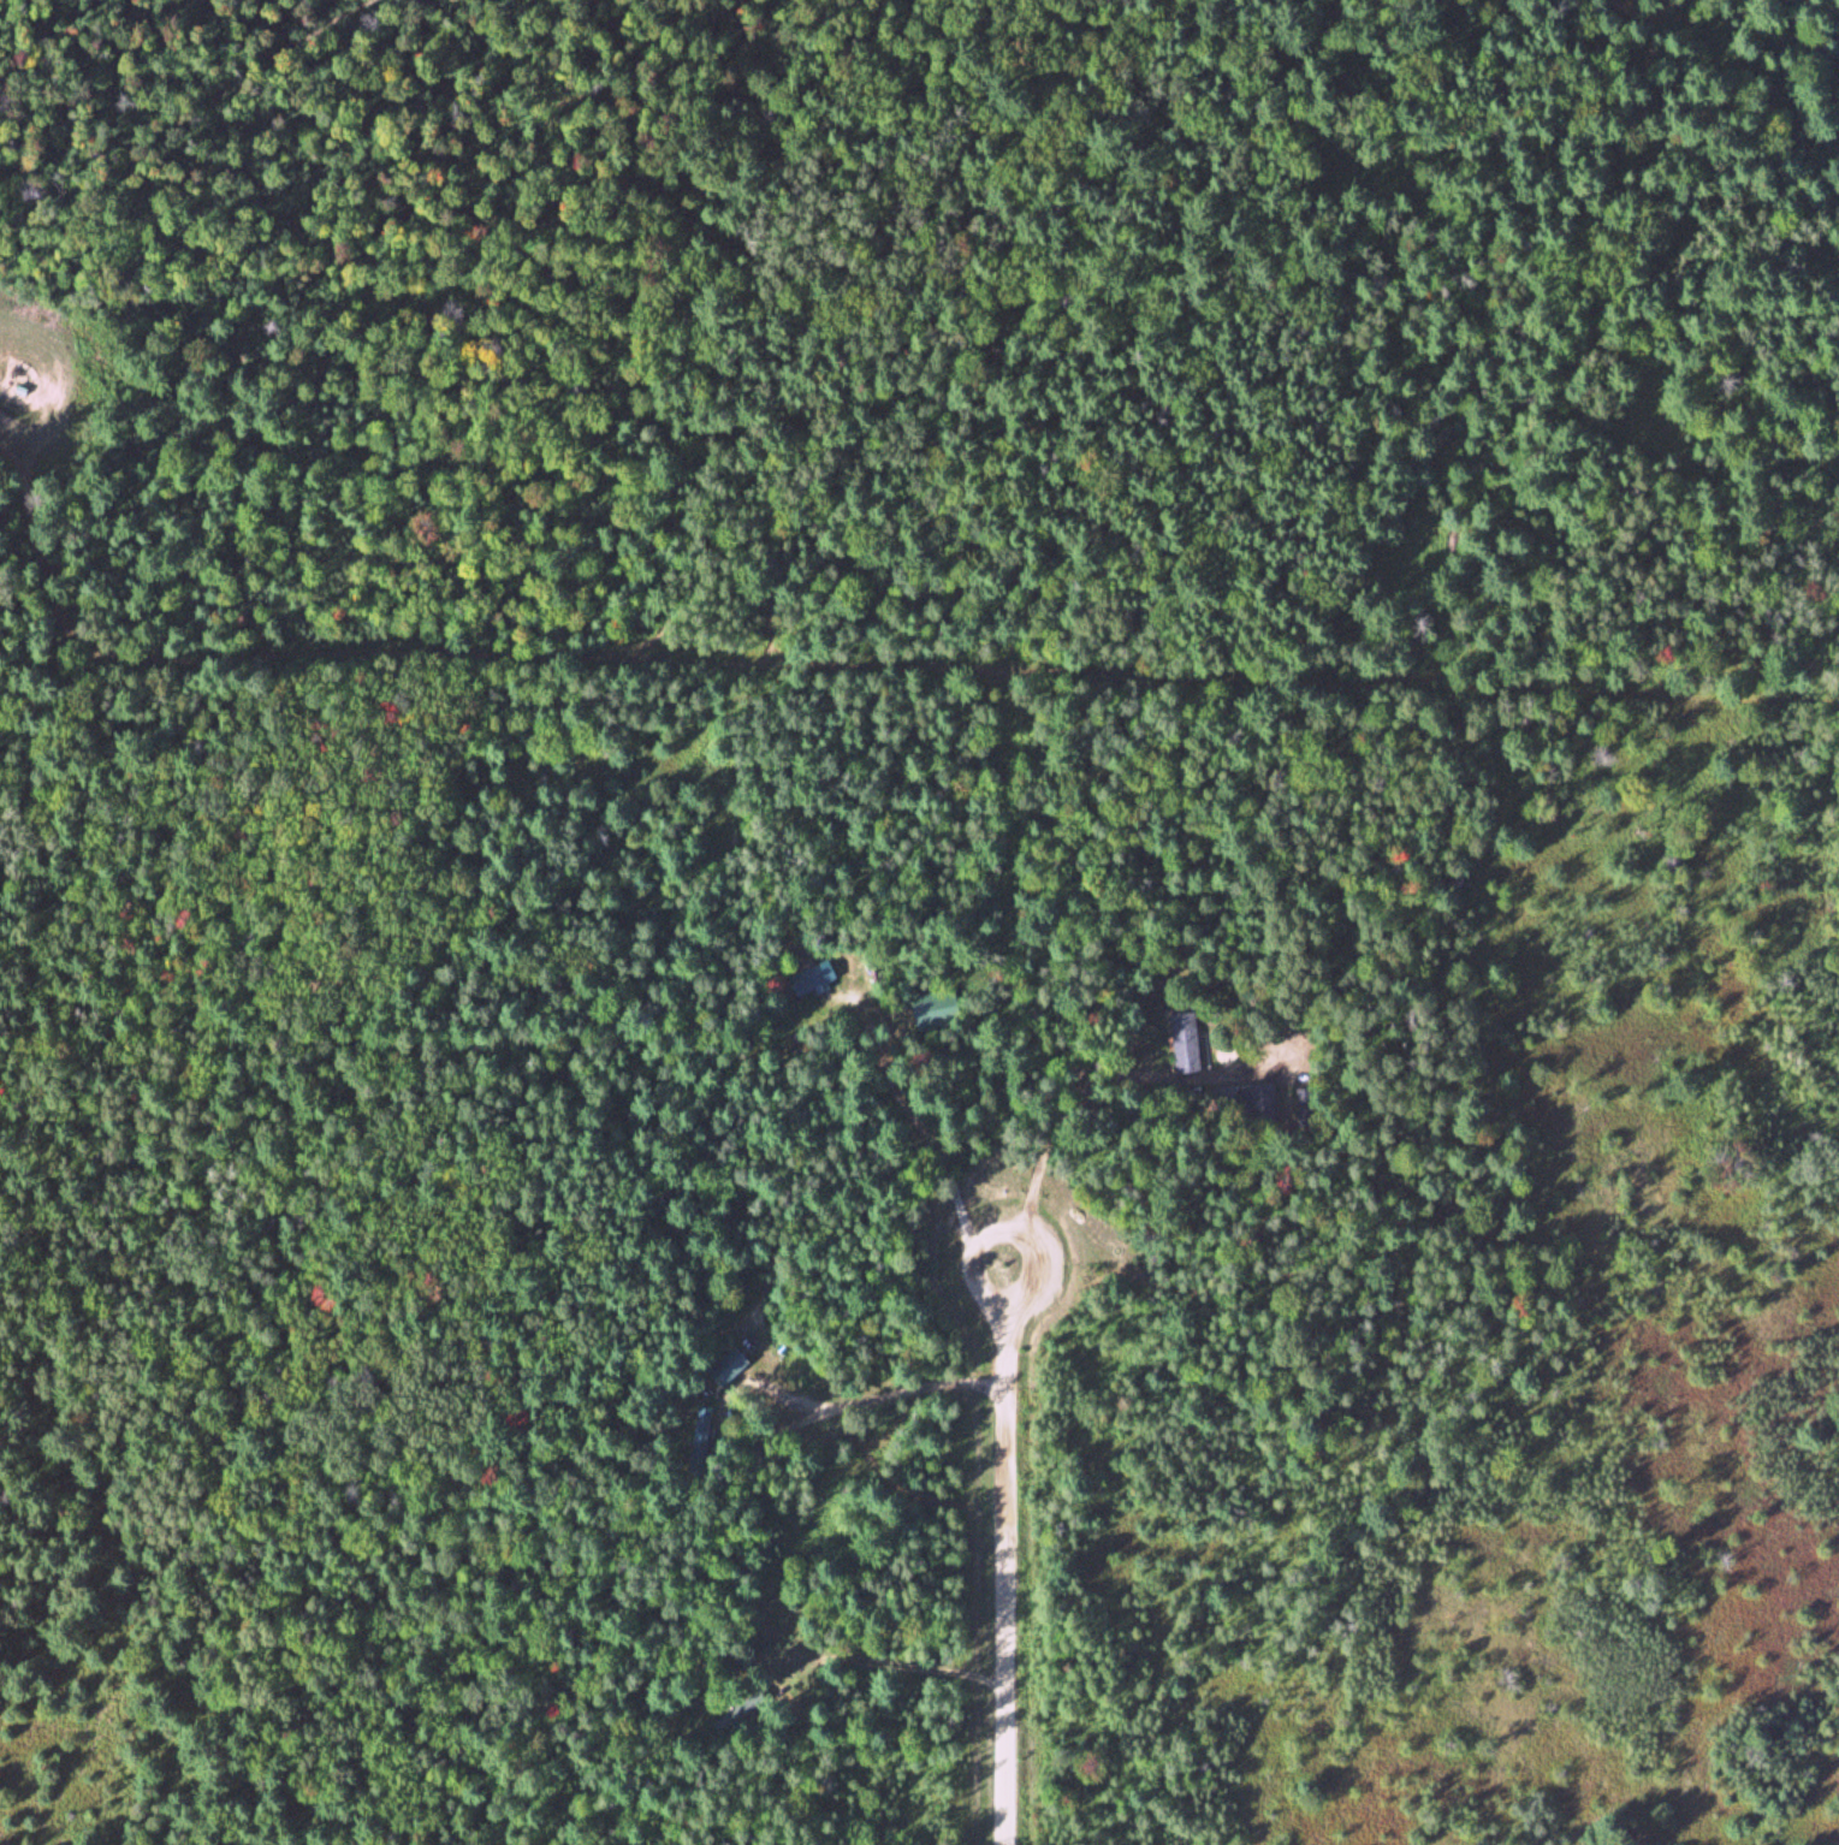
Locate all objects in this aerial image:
building: (812, 978)
building: (1182, 1042)
building: (1223, 1094)
building: (1260, 1104)
building: (726, 1369)
building: (702, 1423)
road: (1009, 1555)

